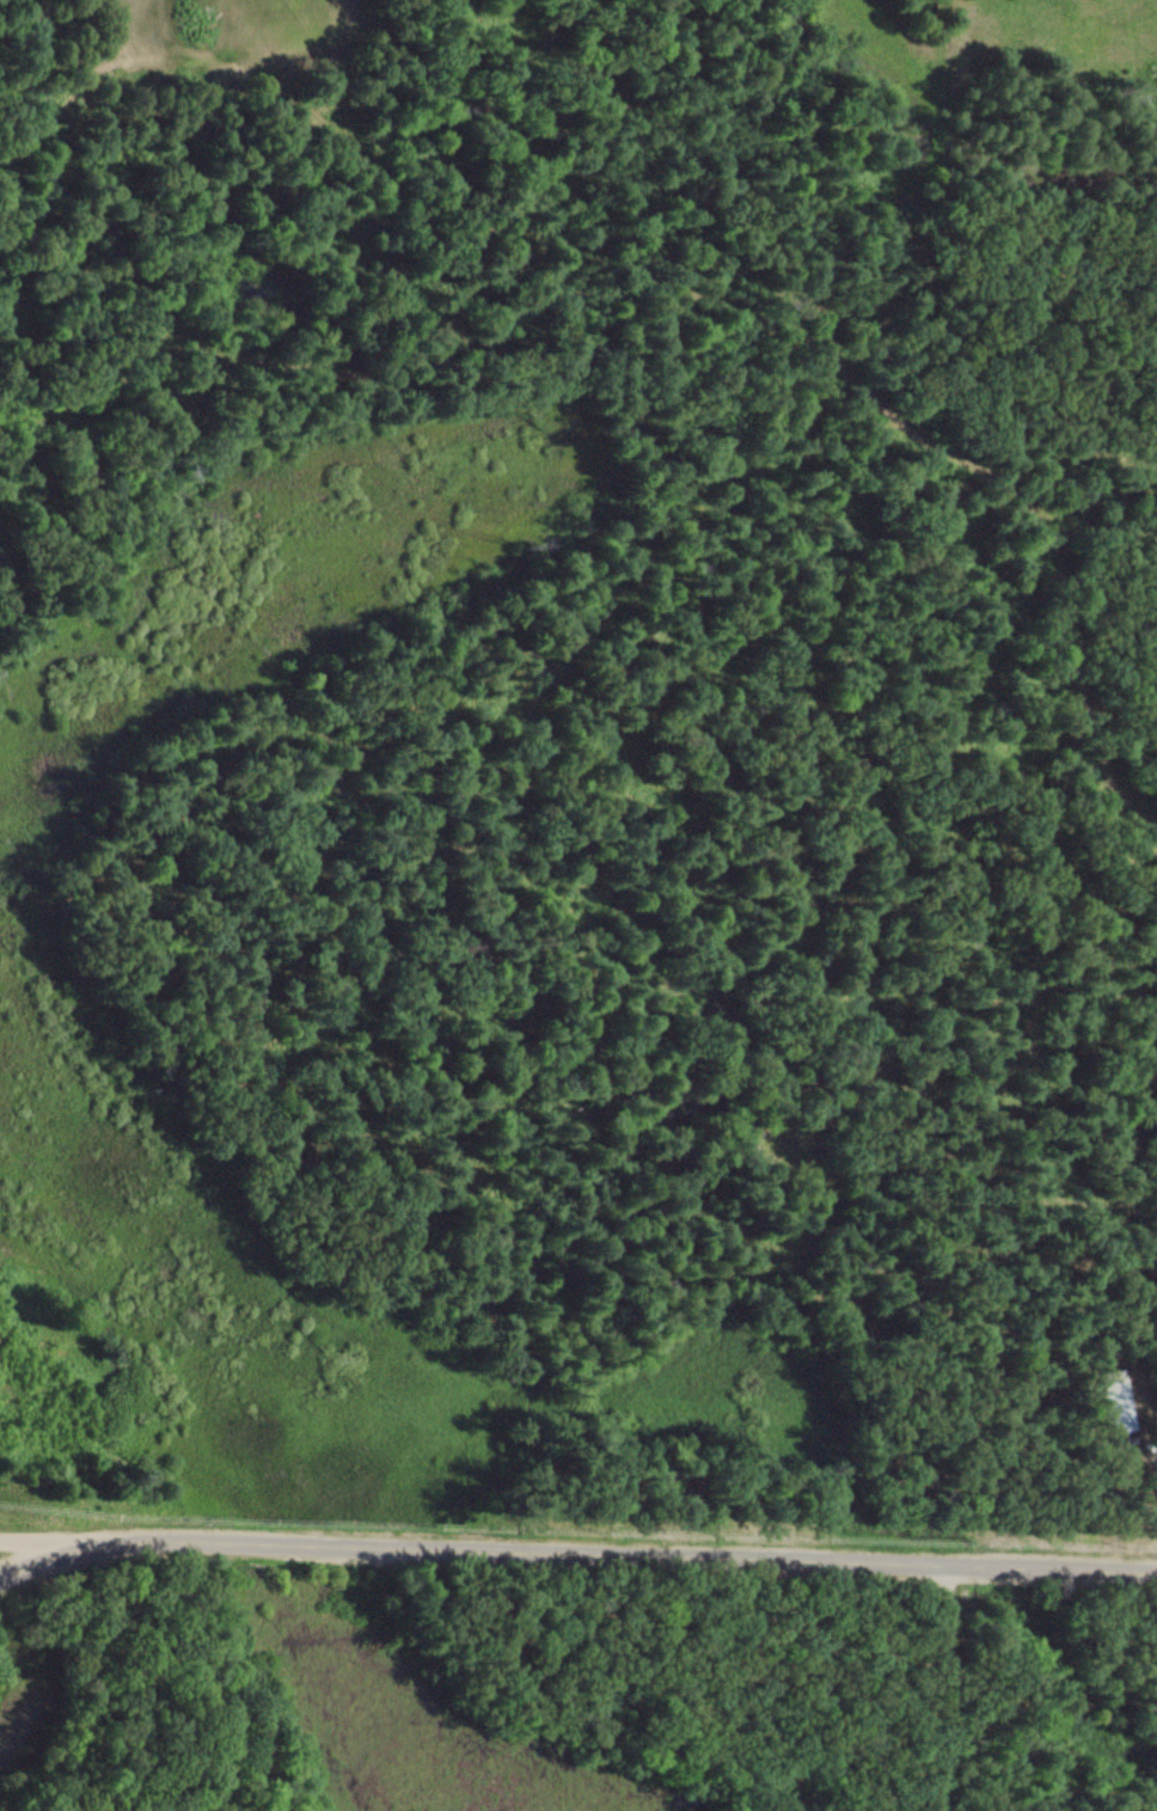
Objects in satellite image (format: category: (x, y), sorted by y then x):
building: (1114, 1400)
road: (53, 1541)
road: (575, 1552)

